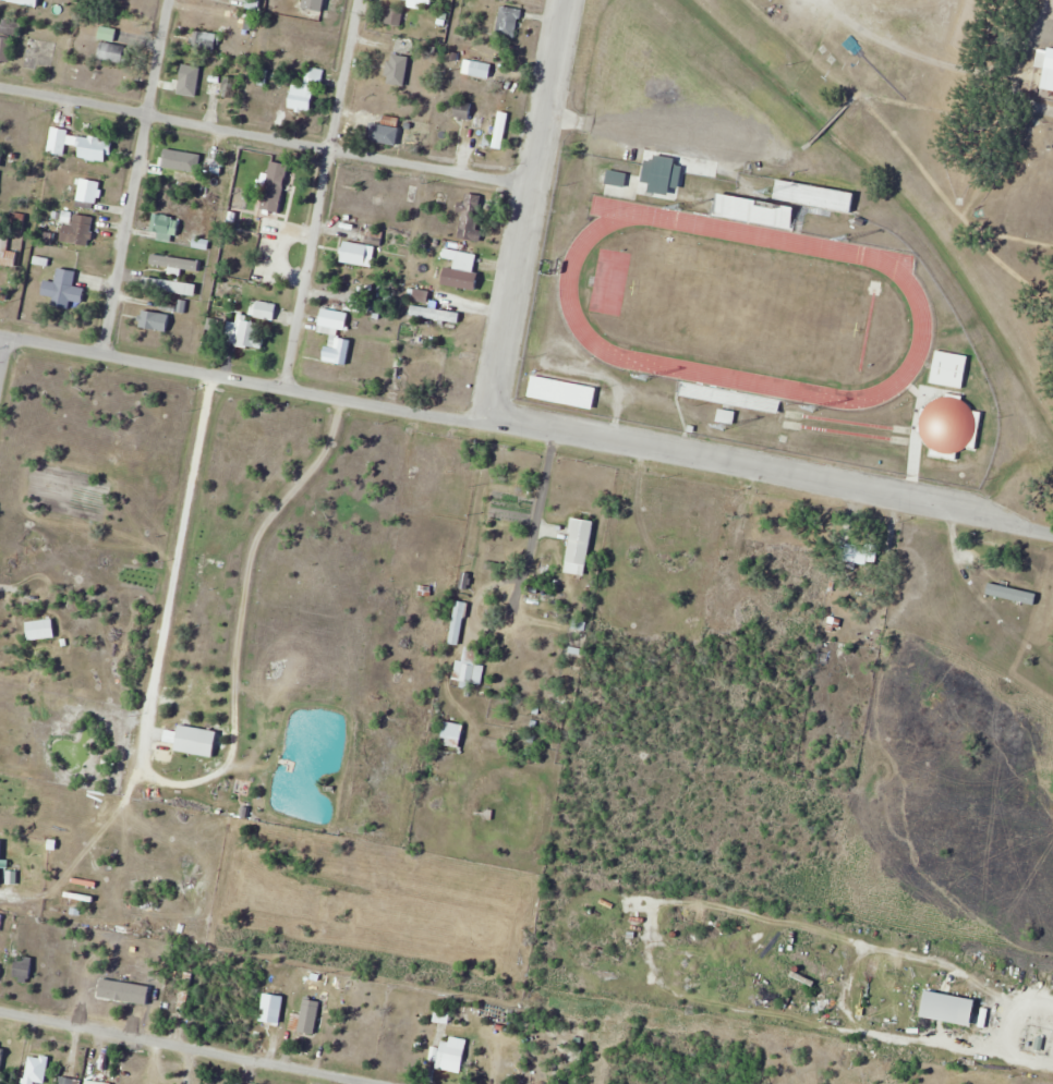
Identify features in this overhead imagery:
building: (423, 1)
building: (25, 2)
building: (394, 17)
building: (508, 22)
building: (107, 33)
building: (8, 40)
building: (204, 41)
building: (112, 51)
building: (45, 53)
building: (398, 70)
building: (481, 70)
building: (1049, 72)
building: (201, 77)
building: (306, 92)
building: (463, 111)
building: (376, 133)
building: (498, 133)
road: (264, 135)
building: (56, 141)
building: (96, 149)
building: (216, 157)
building: (0, 160)
building: (180, 162)
road: (134, 176)
building: (617, 179)
building: (276, 186)
building: (88, 194)
road: (317, 194)
building: (815, 196)
building: (755, 209)
road: (524, 211)
building: (472, 217)
building: (165, 227)
building: (273, 227)
building: (77, 229)
building: (359, 249)
building: (7, 255)
building: (276, 261)
building: (462, 279)
building: (159, 283)
building: (63, 290)
track: (915, 301)
park: (745, 306)
building: (264, 309)
building: (436, 314)
building: (154, 321)
stadium: (752, 322)
building: (247, 333)
building: (335, 336)
road: (3, 357)
building: (948, 368)
building: (432, 372)
building: (561, 389)
building: (726, 398)
building: (727, 415)
road: (528, 431)
building: (572, 540)
building: (862, 552)
building: (791, 560)
building: (650, 584)
building: (1012, 594)
building: (458, 622)
building: (33, 629)
building: (470, 666)
building: (452, 733)
building: (189, 741)
road: (182, 780)
building: (0, 862)
building: (34, 909)
building: (0, 966)
building: (24, 969)
building: (951, 1007)
building: (271, 1008)
building: (308, 1016)
road: (190, 1047)
building: (451, 1055)
building: (36, 1070)
building: (69, 1081)

